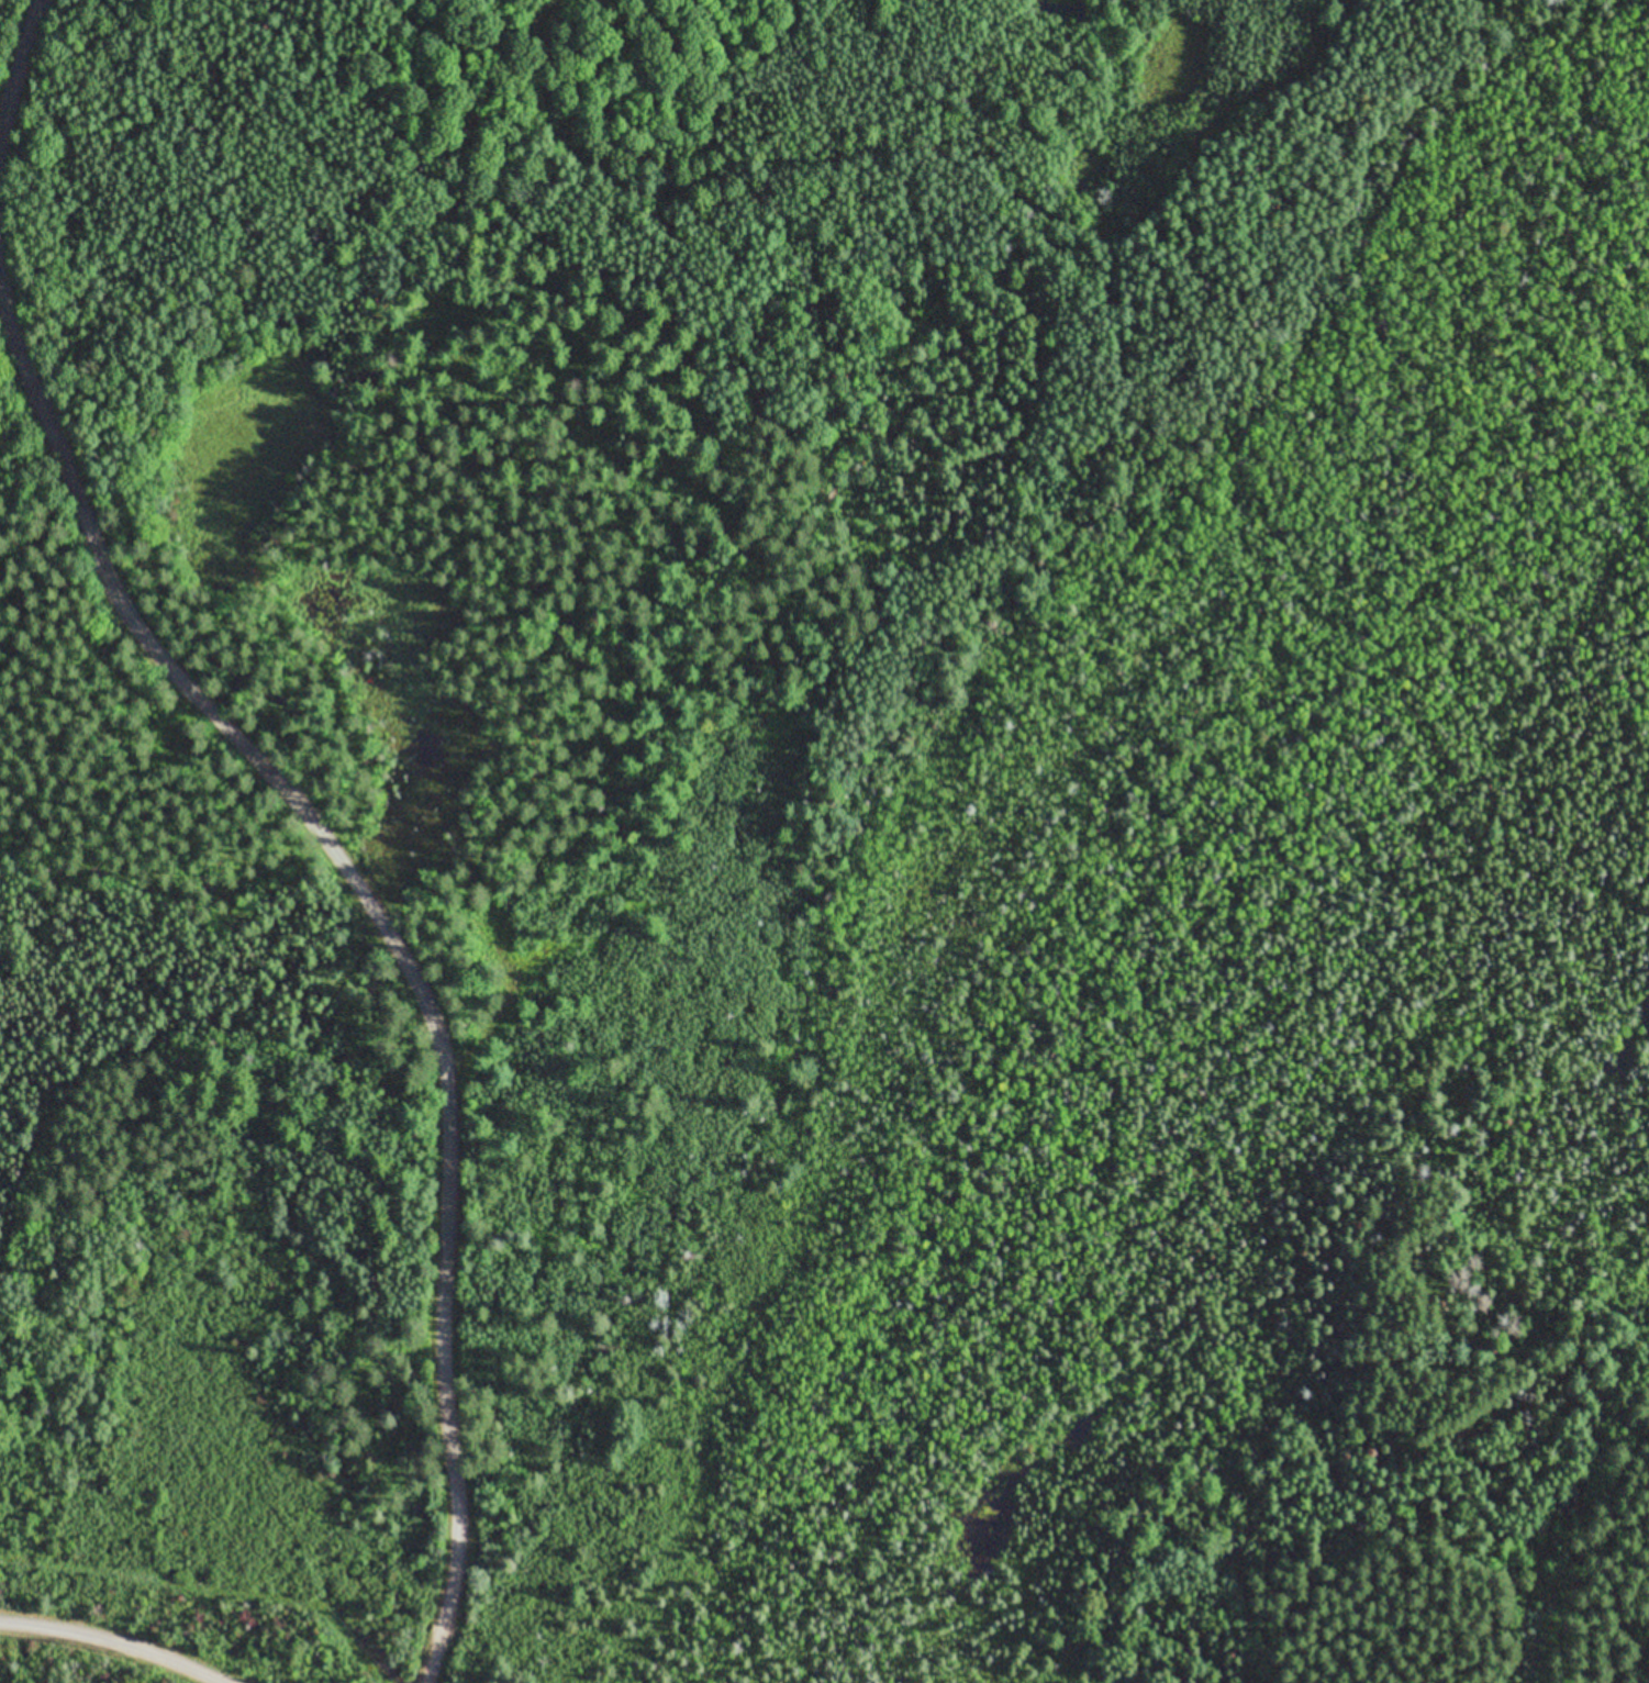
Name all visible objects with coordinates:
road: (315, 812)
road: (120, 1649)

